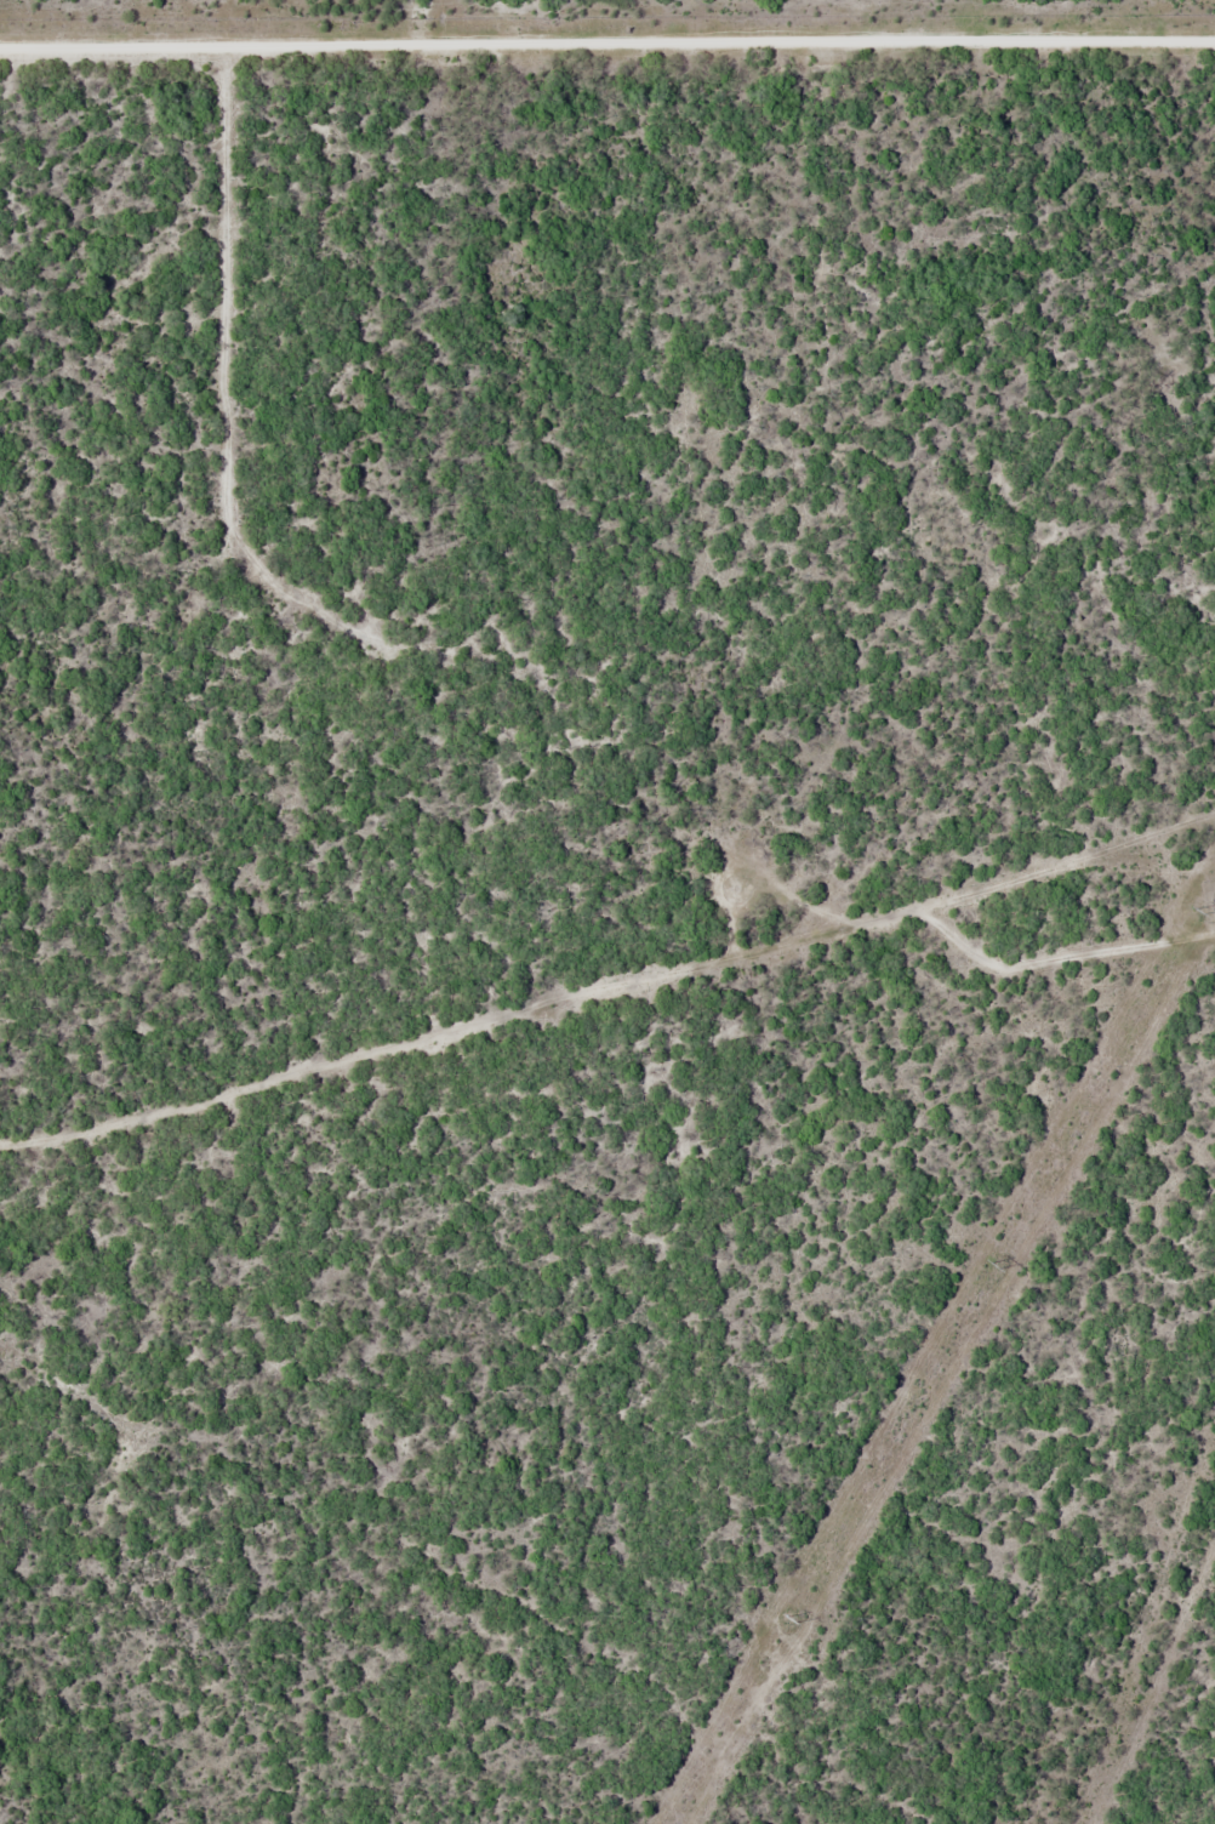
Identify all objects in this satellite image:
road: (607, 41)
power tower: (1197, 907)
power tower: (993, 1265)
power tower: (789, 1621)

